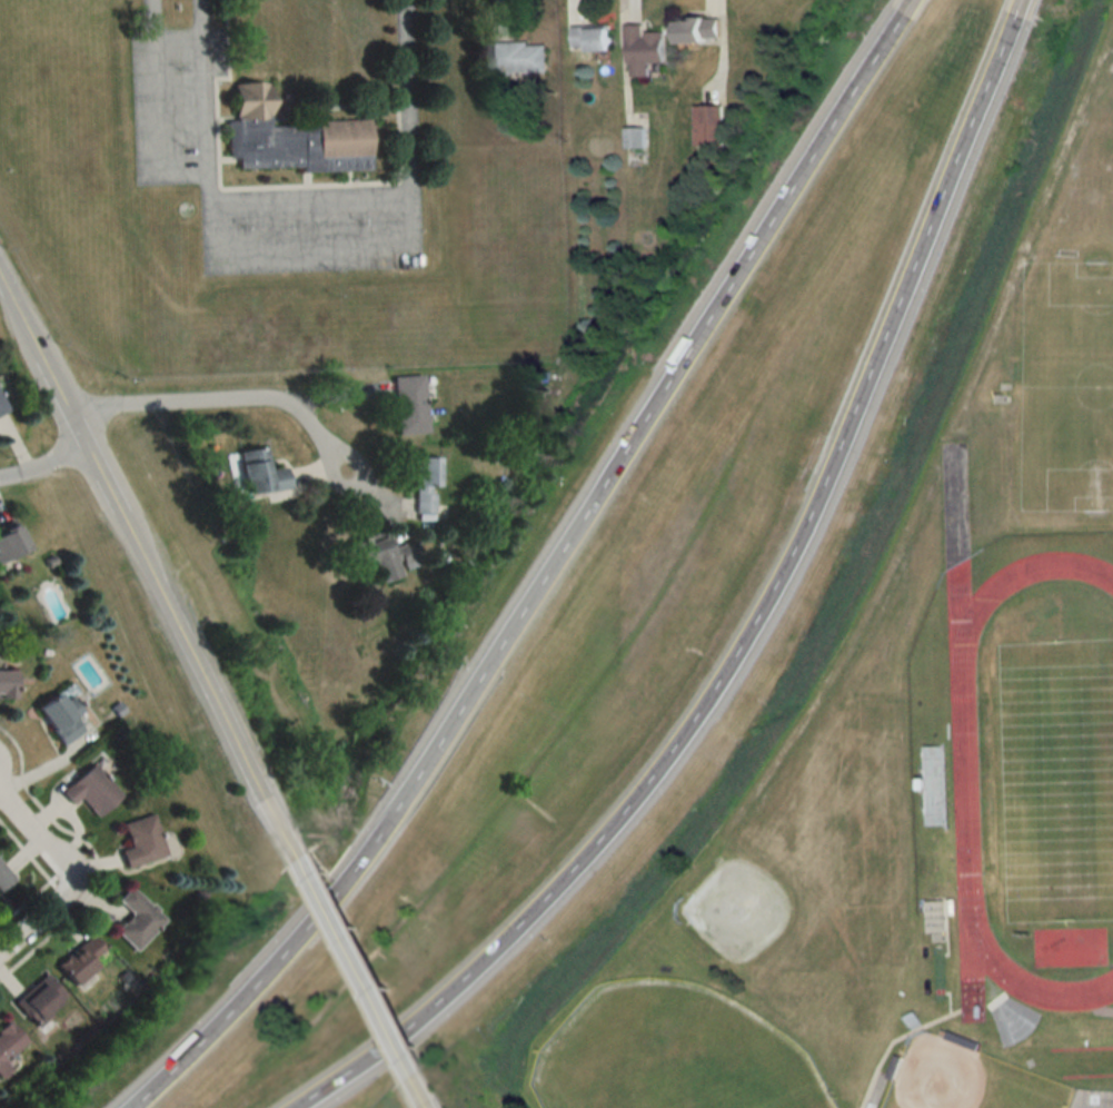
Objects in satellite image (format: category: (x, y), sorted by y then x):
building: (695, 29)
building: (589, 38)
building: (642, 50)
building: (517, 57)
road: (157, 110)
building: (705, 125)
building: (633, 137)
building: (289, 141)
road: (310, 199)
road: (307, 245)
building: (407, 404)
road: (222, 405)
building: (1, 406)
road: (47, 467)
building: (258, 472)
building: (424, 485)
road: (130, 532)
building: (10, 543)
building: (374, 556)
road: (546, 574)
road: (753, 621)
building: (6, 683)
building: (60, 716)
building: (932, 787)
building: (90, 790)
building: (140, 841)
road: (64, 873)
building: (3, 877)
park: (774, 899)
building: (137, 919)
road: (344, 949)
building: (80, 959)
building: (39, 1000)
building: (8, 1045)
park: (669, 1053)
park: (962, 1079)

